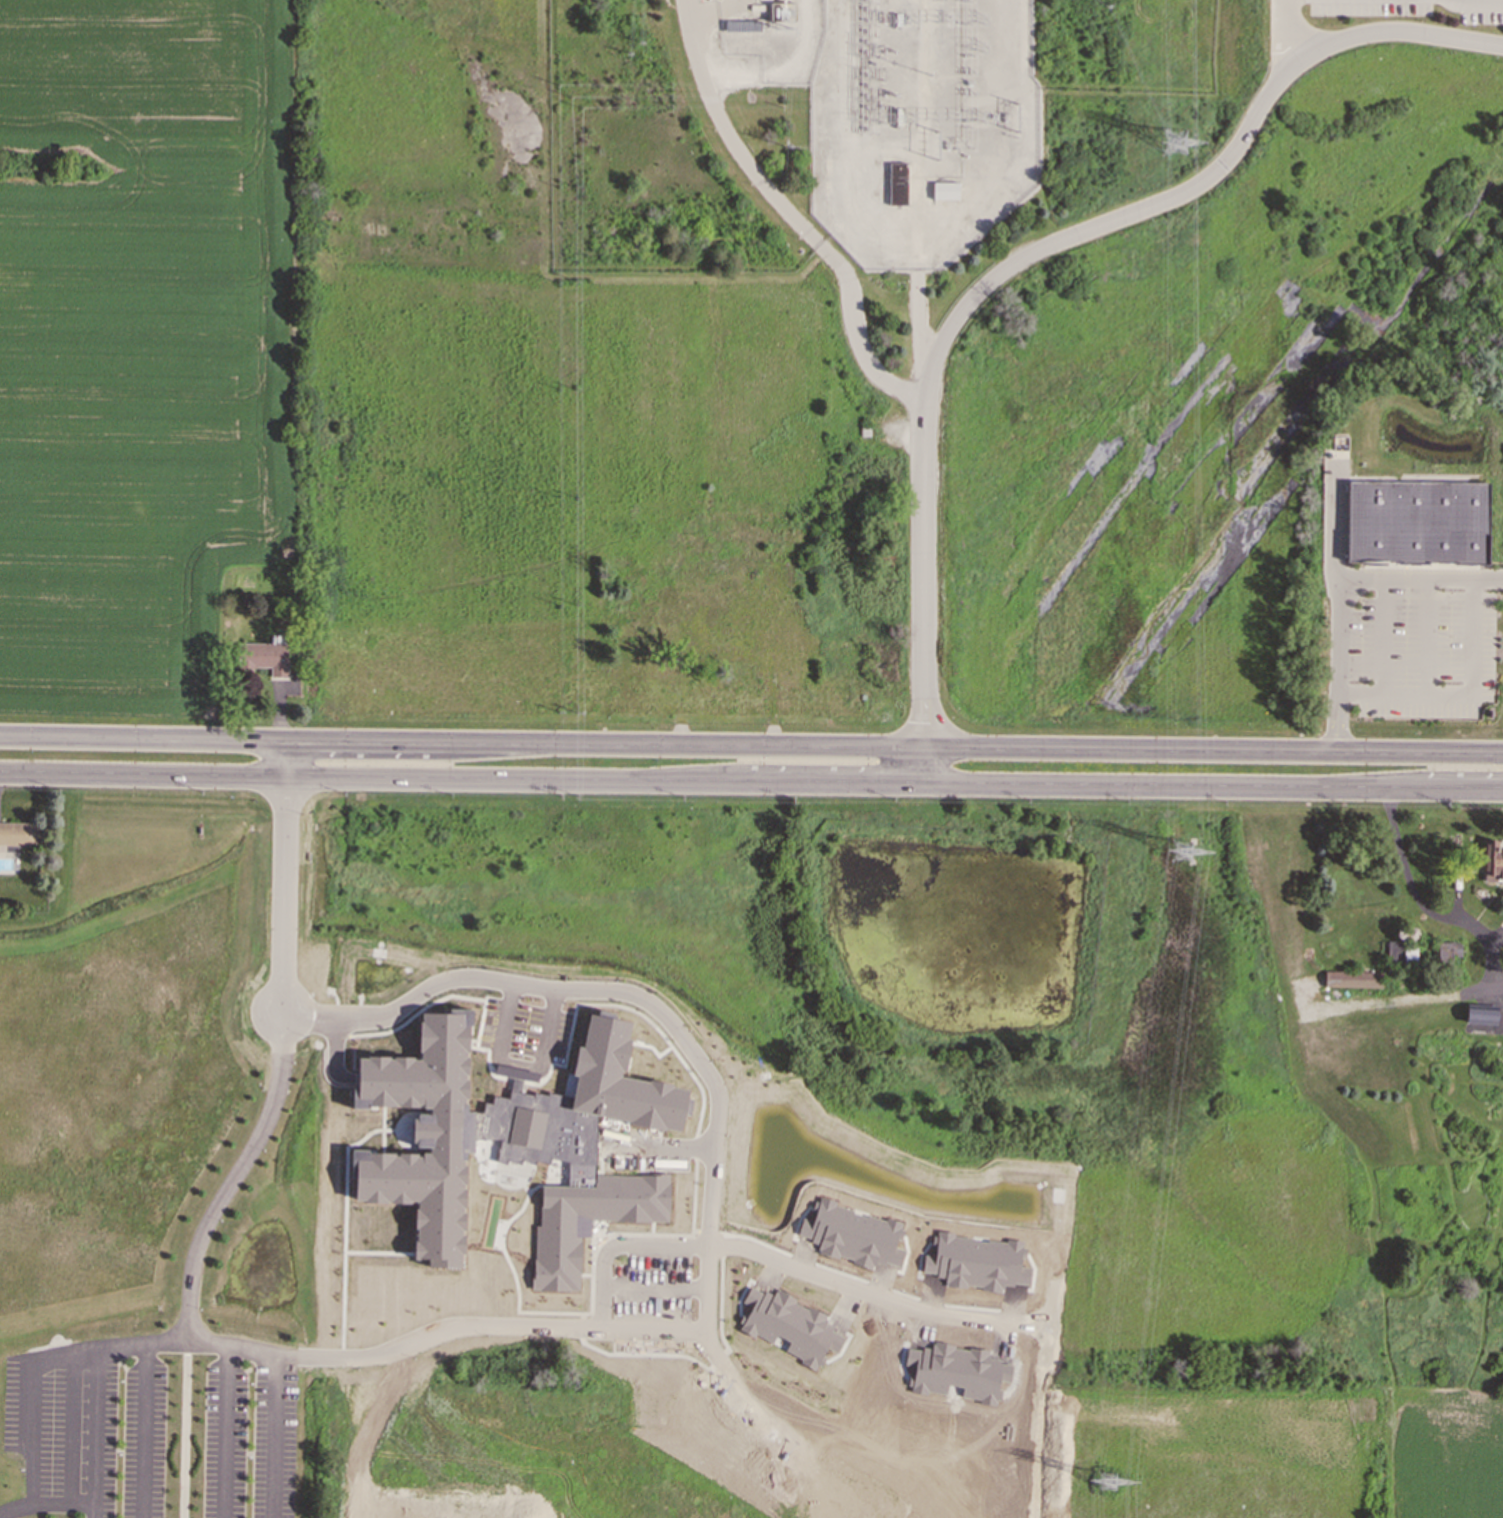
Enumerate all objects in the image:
road: (1475, 2)
road: (1389, 32)
road: (1284, 36)
power substation: (921, 125)
power tower: (1176, 145)
building: (897, 184)
building: (945, 191)
road: (792, 212)
road: (953, 323)
crop: (138, 343)
building: (1417, 522)
road: (1420, 579)
road: (1338, 614)
road: (1428, 637)
parking lot: (1422, 652)
building: (264, 657)
road: (1381, 658)
road: (1474, 684)
road: (461, 743)
road: (1213, 751)
road: (922, 764)
road: (751, 781)
building: (16, 833)
power tower: (1183, 852)
building: (1492, 861)
road: (279, 875)
road: (1421, 904)
building: (1448, 949)
building: (1400, 953)
building: (1352, 978)
road: (1502, 984)
road: (1405, 1000)
road: (506, 1003)
road: (550, 1010)
building: (1480, 1013)
road: (338, 1085)
road: (229, 1172)
road: (713, 1174)
building: (419, 1197)
road: (618, 1235)
road: (656, 1277)
road: (875, 1285)
road: (271, 1391)
road: (22, 1393)
road: (93, 1426)
road: (69, 1428)
road: (142, 1430)
road: (224, 1431)
crop: (1450, 1454)
power tower: (1108, 1484)
road: (13, 1508)

